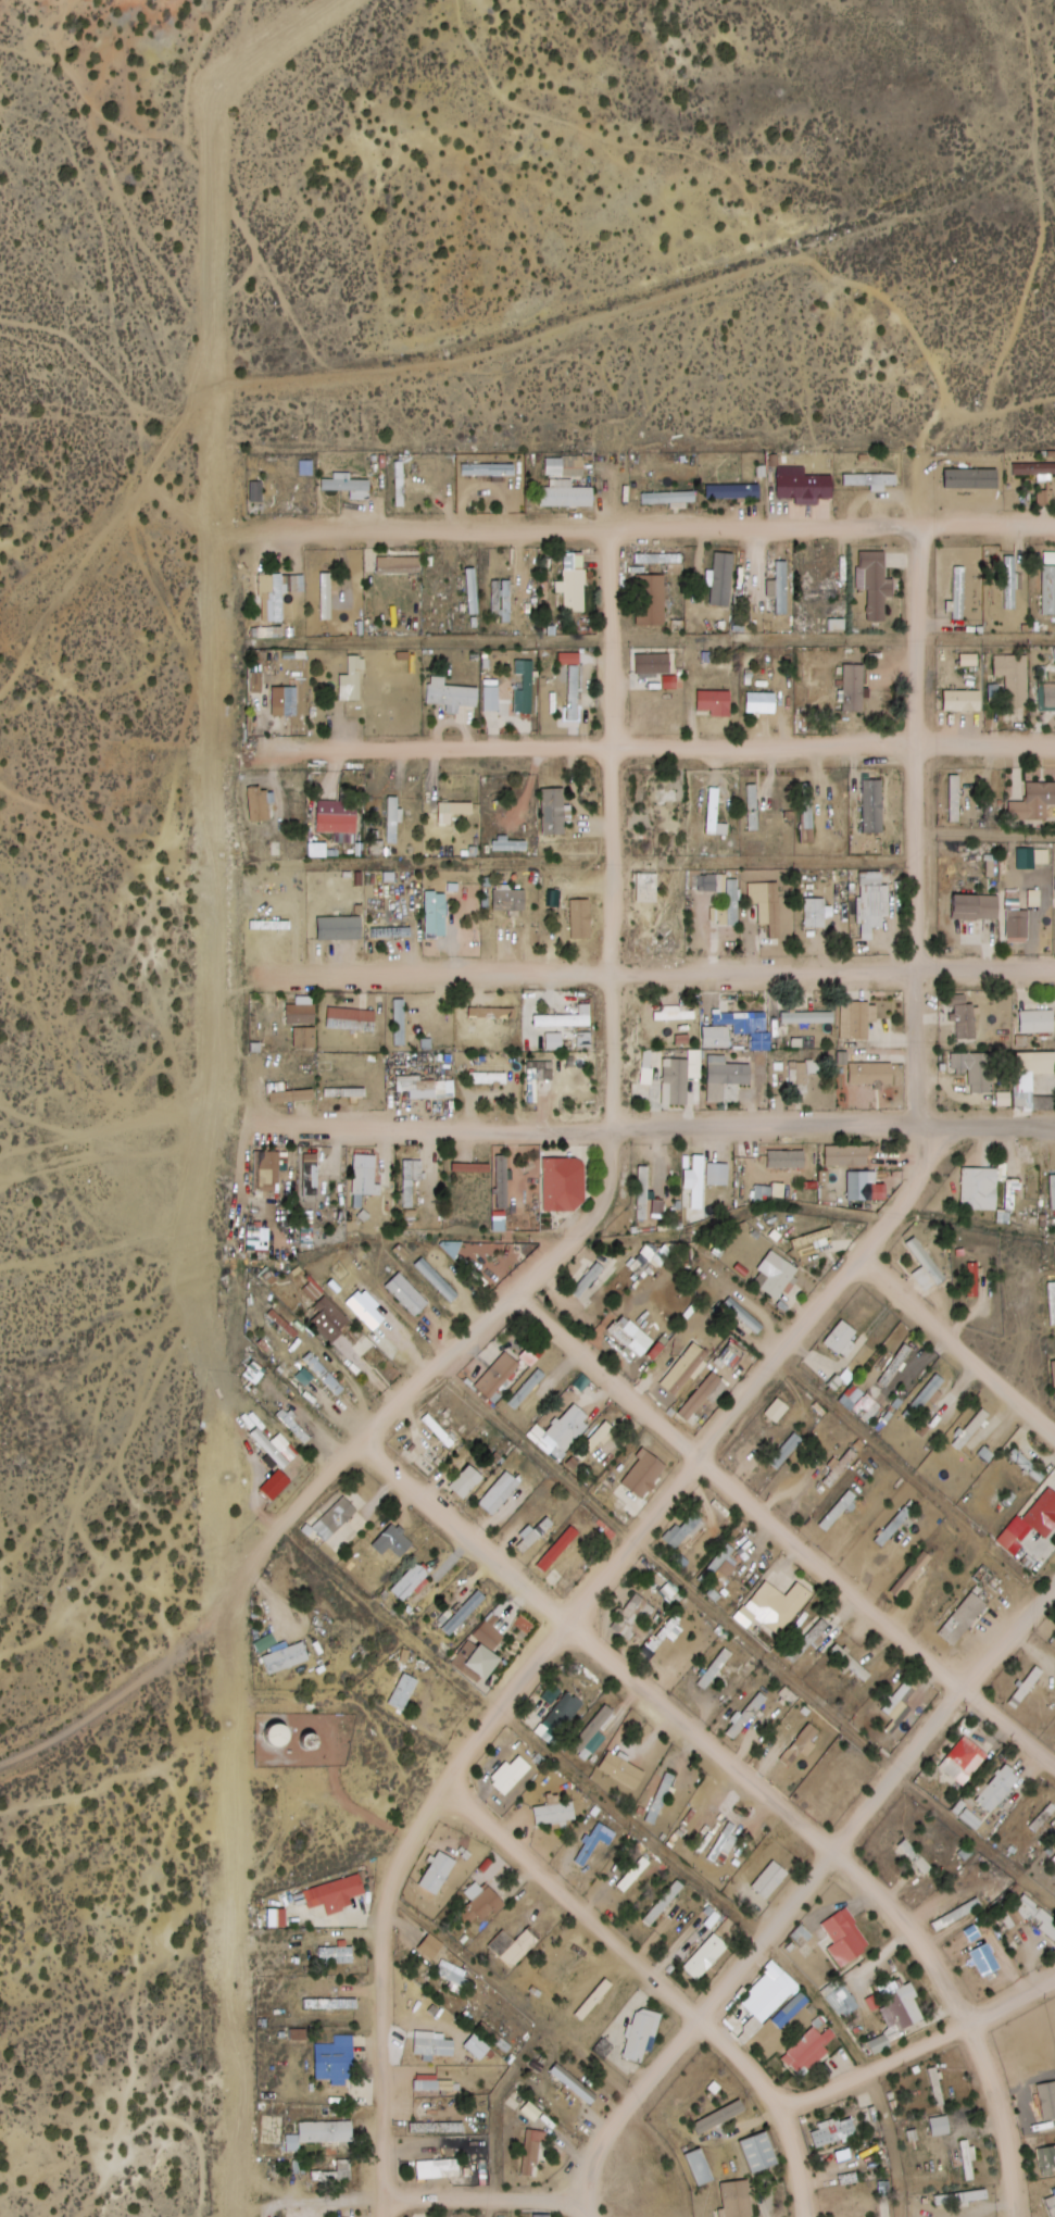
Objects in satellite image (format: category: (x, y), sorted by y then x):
building: (1045, 471)
building: (871, 480)
building: (969, 481)
building: (401, 484)
building: (806, 487)
building: (734, 491)
building: (567, 496)
building: (1047, 496)
building: (669, 498)
road: (657, 526)
building: (400, 564)
building: (724, 578)
building: (577, 580)
building: (1013, 581)
building: (1050, 581)
building: (877, 586)
building: (441, 590)
building: (475, 590)
building: (279, 591)
building: (960, 592)
building: (503, 599)
building: (656, 602)
building: (269, 631)
road: (588, 640)
building: (655, 664)
building: (1014, 676)
building: (347, 684)
building: (516, 684)
building: (278, 685)
building: (856, 688)
building: (578, 692)
building: (452, 693)
building: (1047, 696)
building: (764, 700)
building: (965, 700)
building: (717, 702)
road: (651, 743)
building: (1042, 791)
building: (956, 797)
building: (261, 803)
building: (875, 805)
building: (754, 806)
road: (615, 807)
building: (454, 811)
building: (555, 811)
building: (717, 813)
building: (340, 816)
building: (395, 819)
building: (319, 849)
road: (649, 856)
building: (512, 900)
building: (876, 903)
building: (769, 904)
building: (978, 905)
building: (819, 911)
building: (438, 913)
building: (576, 916)
building: (732, 918)
building: (1020, 924)
building: (341, 927)
building: (392, 930)
road: (650, 978)
building: (483, 1011)
building: (302, 1013)
building: (809, 1016)
building: (352, 1018)
building: (850, 1018)
building: (1039, 1019)
building: (401, 1020)
building: (736, 1028)
road: (927, 1028)
building: (1033, 1068)
building: (874, 1070)
building: (731, 1074)
building: (803, 1075)
building: (677, 1080)
building: (429, 1087)
building: (352, 1088)
building: (729, 1093)
building: (1006, 1098)
road: (837, 1126)
road: (438, 1131)
building: (849, 1154)
building: (265, 1169)
building: (414, 1175)
building: (566, 1185)
building: (861, 1186)
building: (982, 1189)
building: (1054, 1192)
building: (701, 1193)
building: (1013, 1193)
power tower: (248, 1230)
building: (926, 1265)
building: (777, 1274)
building: (974, 1278)
building: (409, 1293)
building: (1052, 1302)
building: (332, 1322)
building: (631, 1337)
road: (958, 1345)
building: (535, 1353)
building: (683, 1367)
building: (500, 1376)
building: (528, 1388)
building: (704, 1396)
building: (925, 1396)
building: (869, 1406)
building: (779, 1410)
road: (382, 1420)
building: (565, 1431)
building: (444, 1432)
building: (788, 1450)
power tower: (1040, 1453)
building: (842, 1467)
building: (646, 1475)
building: (467, 1481)
building: (500, 1492)
road: (740, 1493)
building: (841, 1510)
building: (1042, 1510)
building: (341, 1520)
building: (686, 1530)
road: (464, 1532)
building: (536, 1532)
building: (393, 1541)
building: (914, 1575)
building: (410, 1581)
building: (783, 1607)
building: (639, 1611)
building: (467, 1612)
building: (965, 1618)
building: (675, 1642)
building: (280, 1653)
building: (480, 1656)
building: (854, 1662)
building: (717, 1667)
building: (1028, 1687)
building: (405, 1691)
building: (903, 1704)
building: (565, 1714)
building: (750, 1714)
road: (1009, 1726)
road: (60, 1734)
building: (806, 1744)
building: (966, 1759)
building: (624, 1769)
building: (512, 1774)
building: (1000, 1788)
road: (441, 1791)
building: (837, 1791)
building: (662, 1798)
building: (556, 1814)
building: (1042, 1824)
building: (596, 1842)
building: (1054, 1855)
building: (917, 1856)
building: (762, 1869)
building: (439, 1872)
road: (858, 1875)
building: (632, 1878)
road: (808, 1888)
building: (342, 1893)
building: (665, 1903)
building: (486, 1904)
building: (1033, 1914)
building: (959, 1915)
building: (847, 1939)
building: (514, 1946)
building: (338, 1954)
building: (706, 1957)
building: (985, 1962)
building: (558, 1964)
building: (459, 1976)
road: (657, 1982)
building: (595, 1999)
building: (777, 2001)
building: (844, 2002)
building: (336, 2004)
building: (904, 2004)
building: (644, 2034)
building: (435, 2042)
road: (918, 2045)
building: (478, 2047)
building: (812, 2050)
building: (337, 2059)
building: (942, 2081)
building: (1048, 2101)
building: (721, 2116)
building: (941, 2126)
building: (836, 2131)
building: (323, 2133)
building: (536, 2145)
building: (762, 2152)
building: (970, 2160)
building: (702, 2167)
building: (439, 2169)
road: (486, 2200)
building: (738, 2200)
building: (1052, 2204)
road: (587, 2208)

